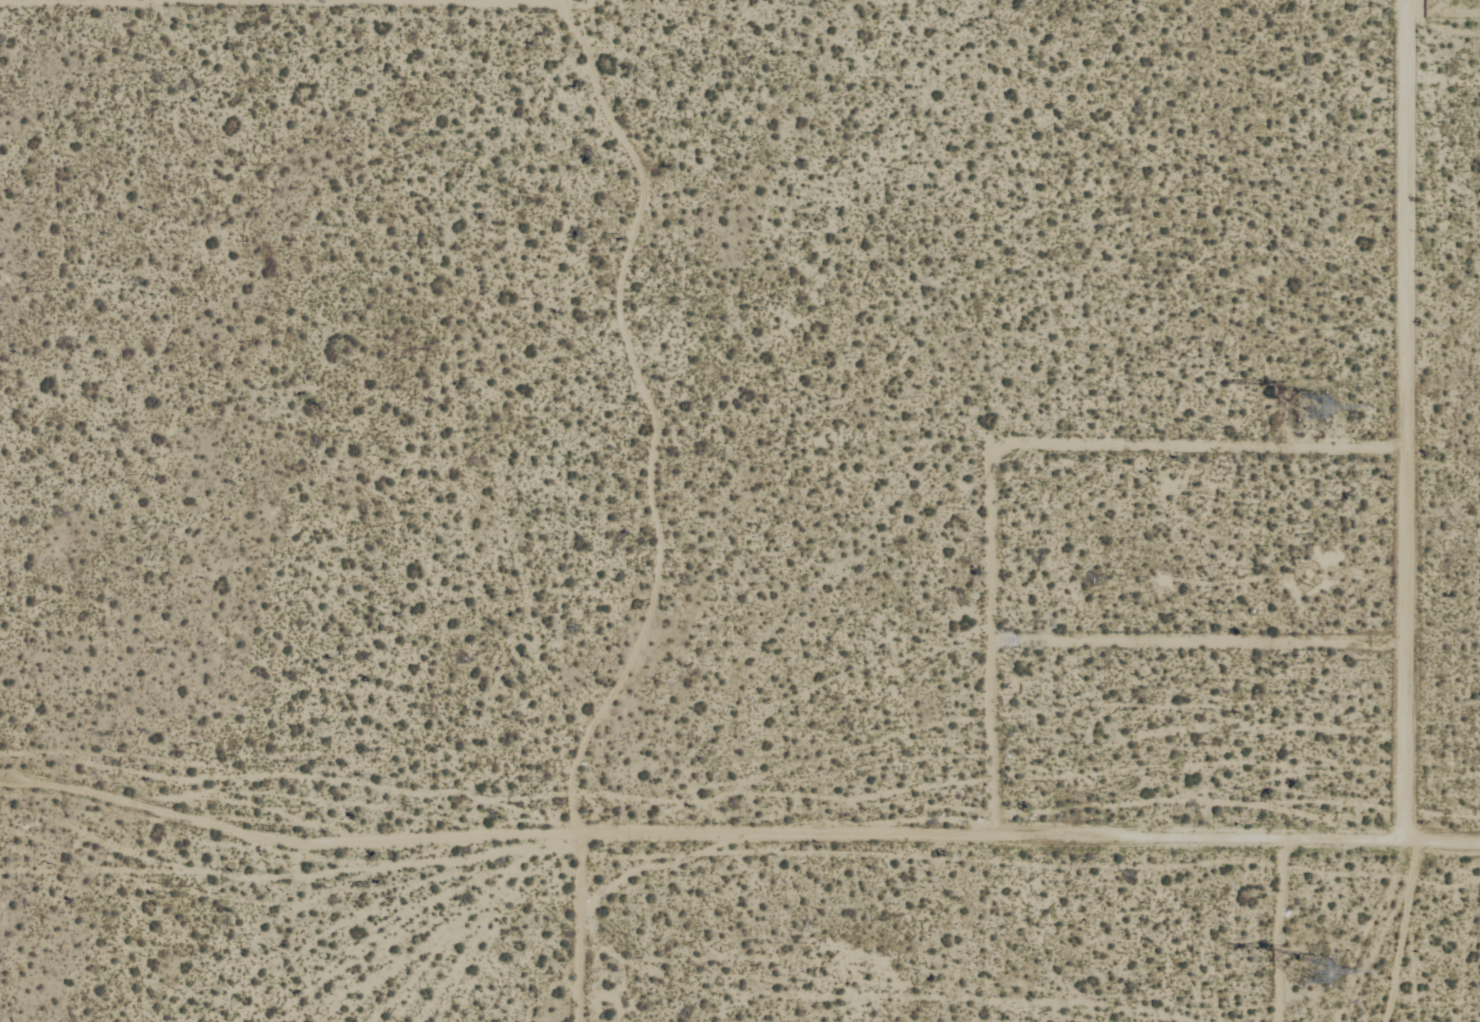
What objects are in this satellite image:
road: (444, 1)
road: (561, 1)
power tower: (1309, 406)
road: (1206, 447)
road: (1413, 511)
road: (1203, 641)
road: (995, 643)
road: (1033, 842)
power tower: (1306, 971)

